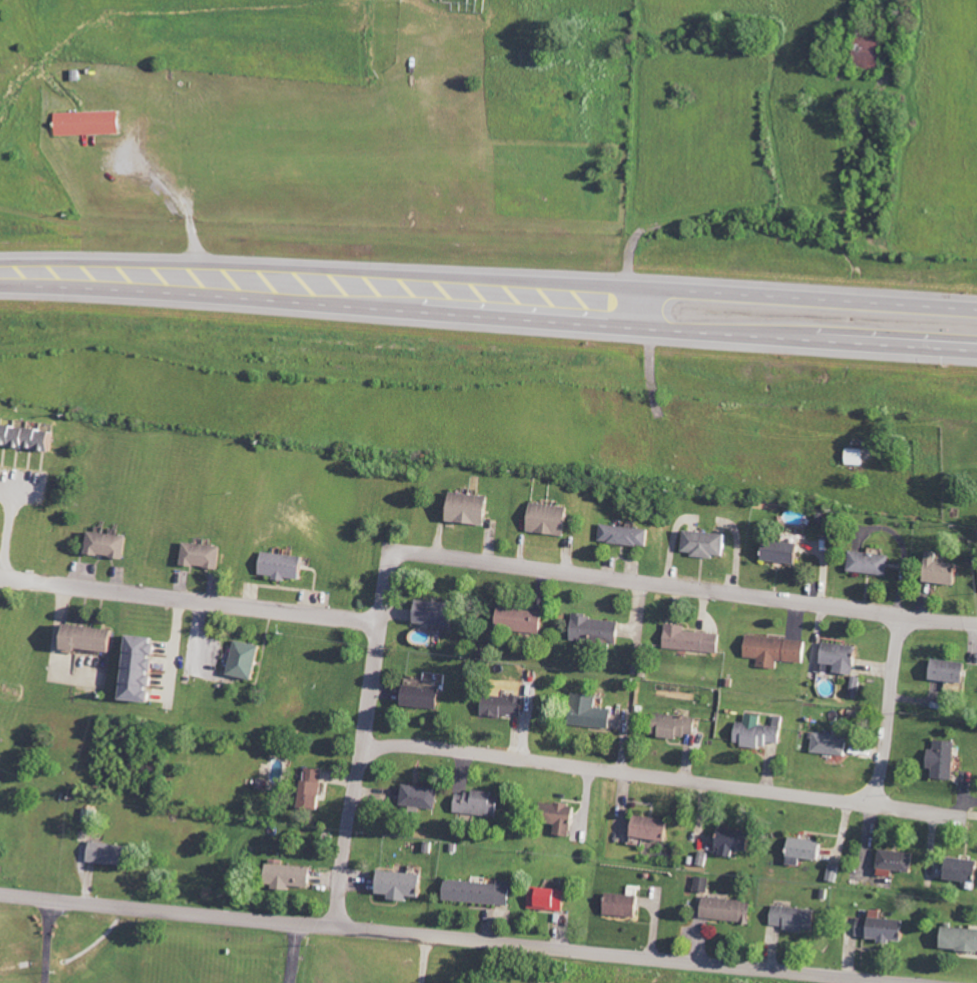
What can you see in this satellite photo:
building: (873, 50)
building: (93, 122)
road: (296, 286)
road: (784, 296)
road: (782, 338)
building: (30, 435)
building: (855, 456)
building: (471, 508)
building: (552, 519)
building: (628, 534)
building: (708, 543)
building: (109, 544)
building: (787, 551)
building: (204, 555)
building: (871, 562)
building: (286, 565)
building: (944, 570)
road: (673, 583)
road: (190, 595)
building: (436, 612)
building: (524, 620)
building: (599, 629)
building: (91, 637)
building: (691, 638)
building: (778, 650)
building: (844, 657)
building: (248, 659)
building: (144, 668)
building: (952, 671)
building: (856, 686)
building: (506, 705)
road: (889, 708)
building: (592, 712)
building: (681, 726)
building: (761, 731)
building: (834, 741)
road: (362, 747)
building: (944, 759)
road: (662, 774)
building: (316, 788)
building: (422, 796)
building: (480, 803)
building: (566, 819)
building: (655, 828)
building: (739, 841)
building: (809, 850)
building: (112, 853)
building: (897, 862)
building: (963, 869)
building: (292, 876)
building: (404, 884)
building: (705, 884)
building: (481, 892)
building: (551, 899)
building: (627, 905)
building: (730, 910)
building: (797, 917)
building: (888, 928)
road: (460, 937)
road: (88, 943)
road: (291, 952)
road: (422, 958)
road: (868, 980)

